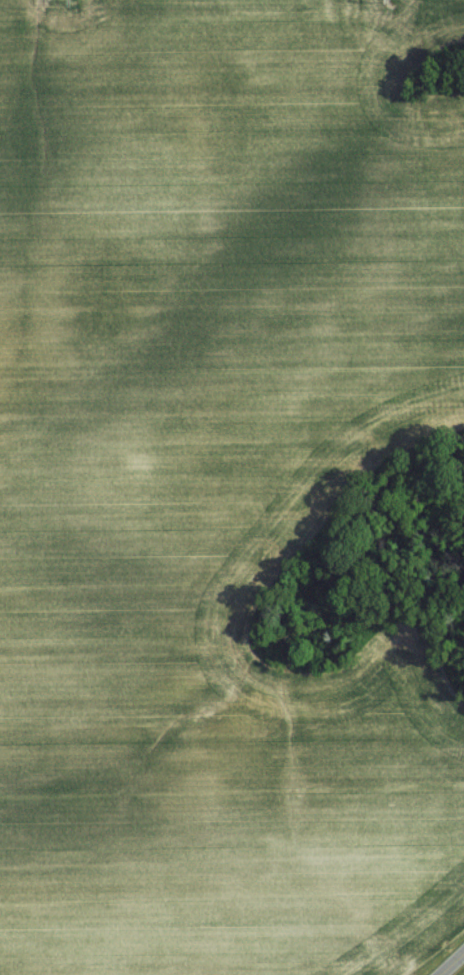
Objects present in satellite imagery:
road: (455, 968)

